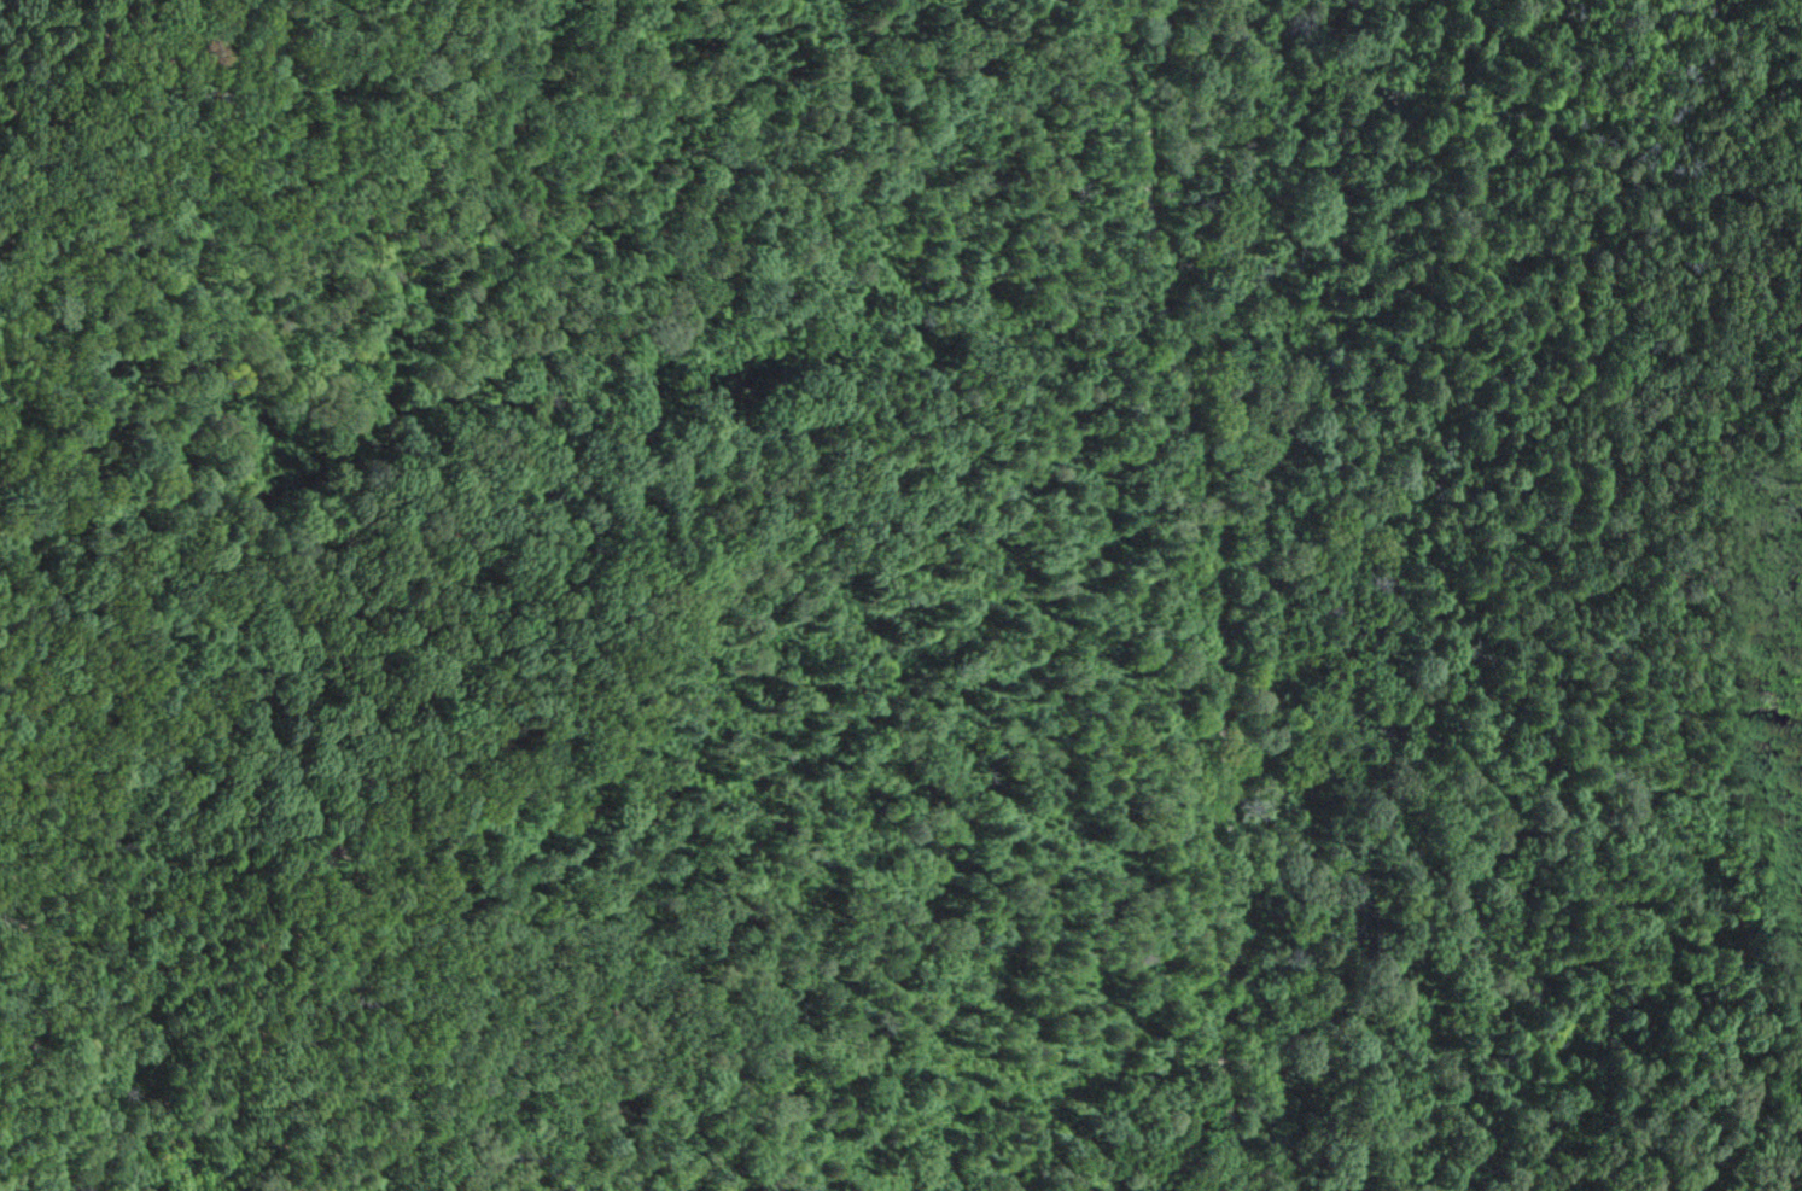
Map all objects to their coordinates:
road: (1283, 599)

